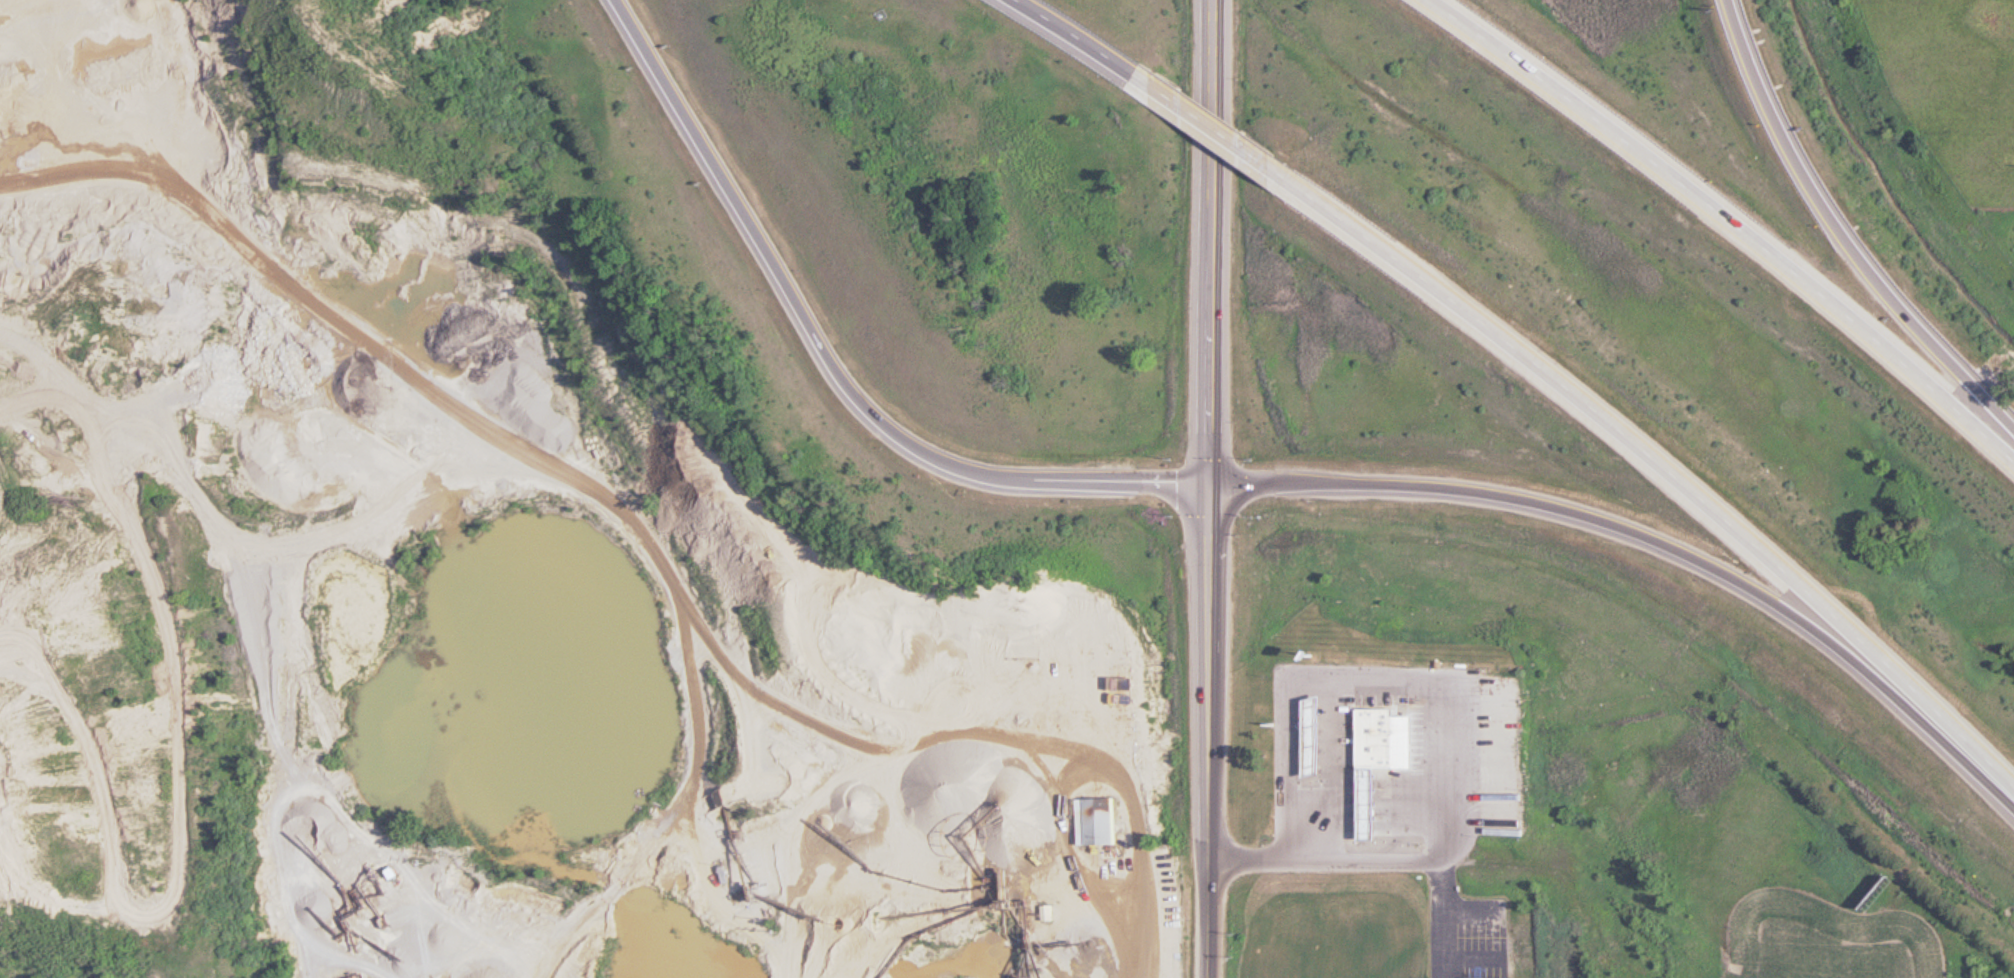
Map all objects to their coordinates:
road: (1075, 37)
road: (1204, 116)
road: (1213, 160)
building: (304, 205)
road: (1735, 213)
road: (1849, 224)
road: (795, 318)
road: (1213, 398)
road: (1653, 450)
road: (1150, 480)
road: (1658, 546)
quarry: (475, 570)
road: (1385, 678)
road: (1210, 726)
building: (1318, 735)
building: (1384, 736)
building: (1377, 803)
building: (1102, 822)
road: (1327, 860)
building: (1049, 913)

